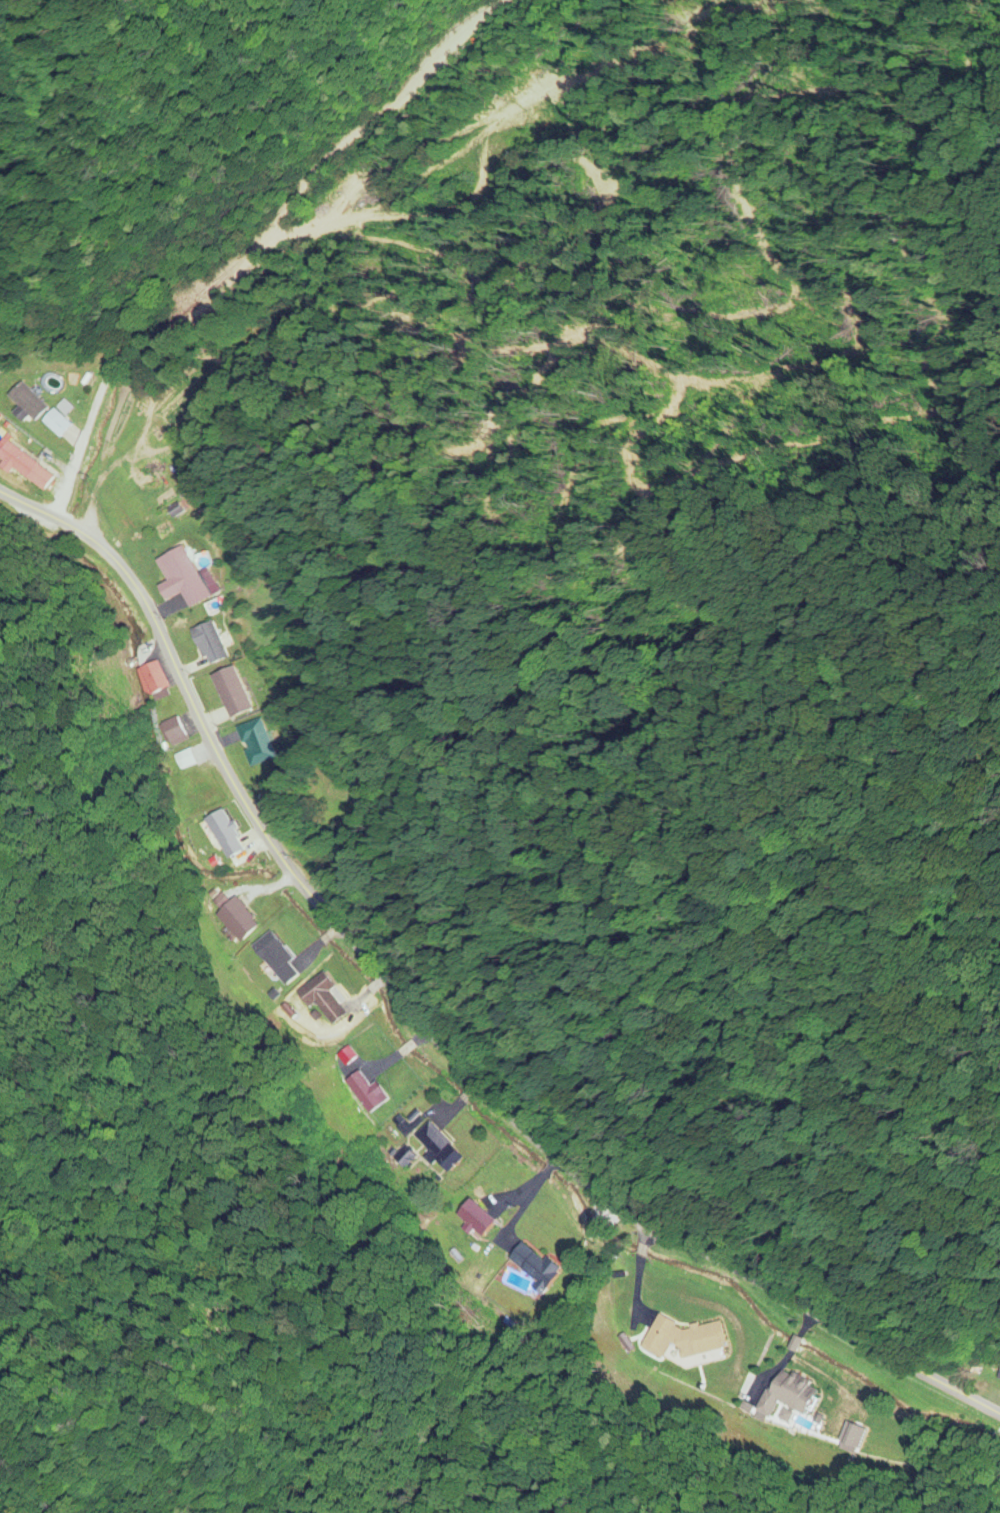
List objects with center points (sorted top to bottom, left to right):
road: (239, 210)
building: (25, 402)
building: (54, 422)
building: (22, 467)
building: (178, 578)
building: (208, 644)
building: (151, 679)
building: (230, 692)
building: (173, 732)
building: (257, 740)
building: (184, 760)
building: (224, 833)
building: (234, 917)
building: (273, 958)
building: (320, 1001)
road: (426, 1026)
building: (362, 1092)
building: (436, 1147)
building: (403, 1158)
building: (473, 1218)
building: (531, 1265)
building: (681, 1339)
building: (997, 1375)

